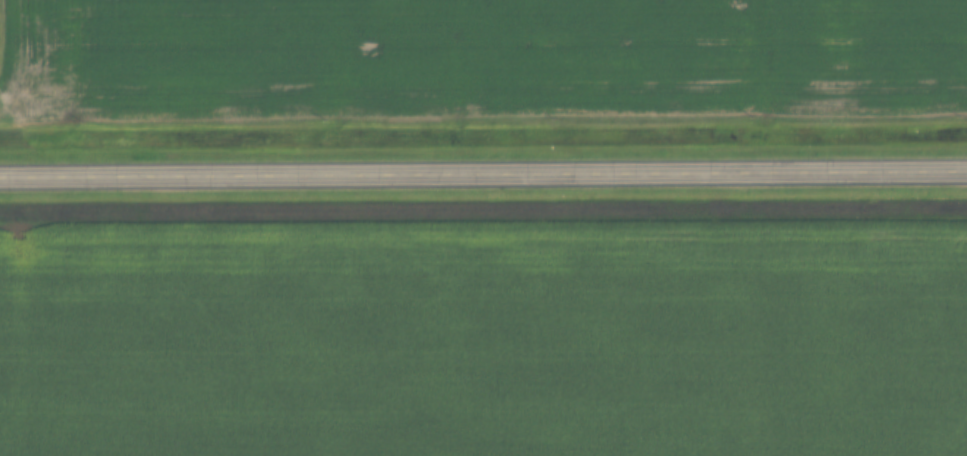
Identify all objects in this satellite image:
crop: (477, 62)
road: (483, 177)
crop: (484, 340)

